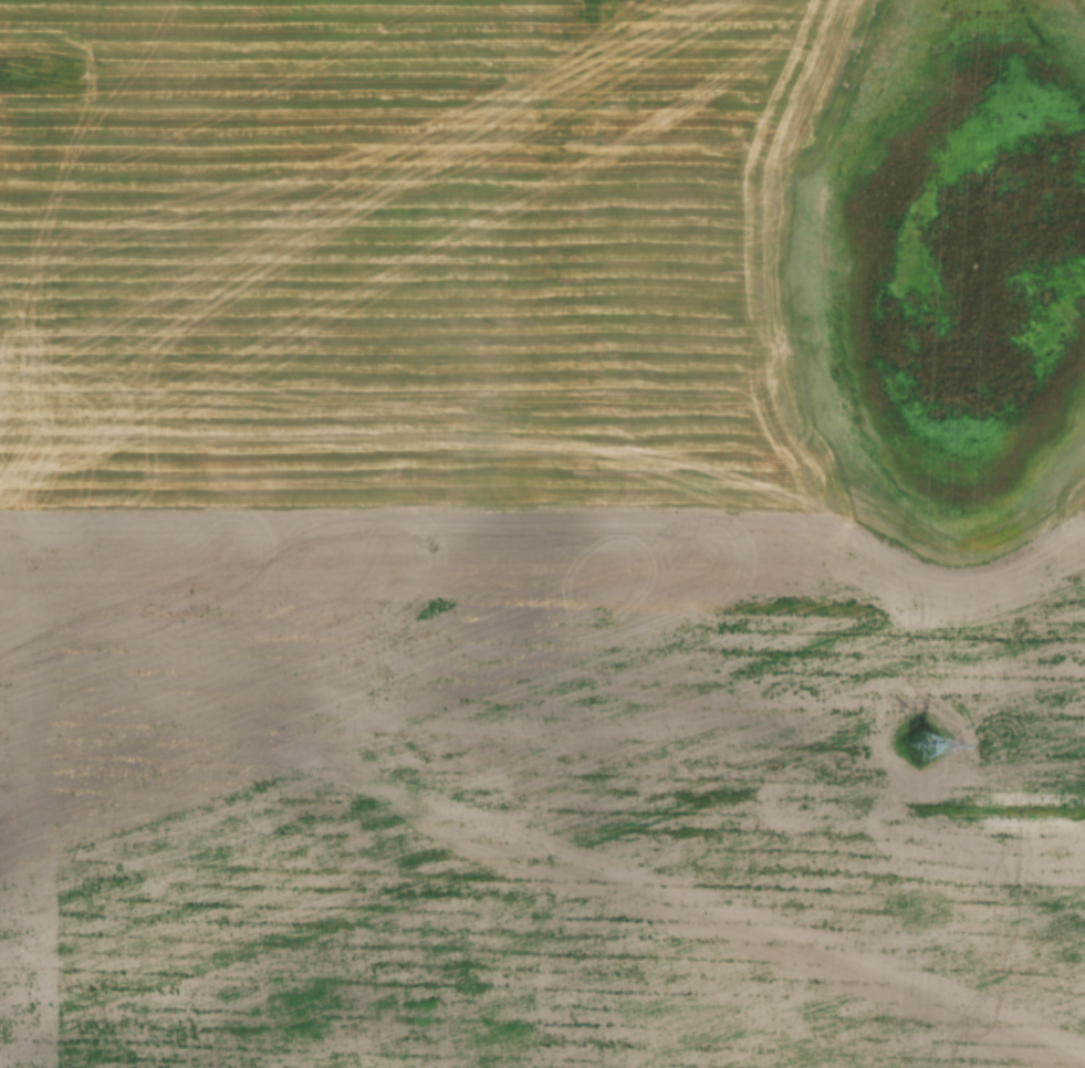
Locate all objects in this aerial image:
power tower: (921, 744)

